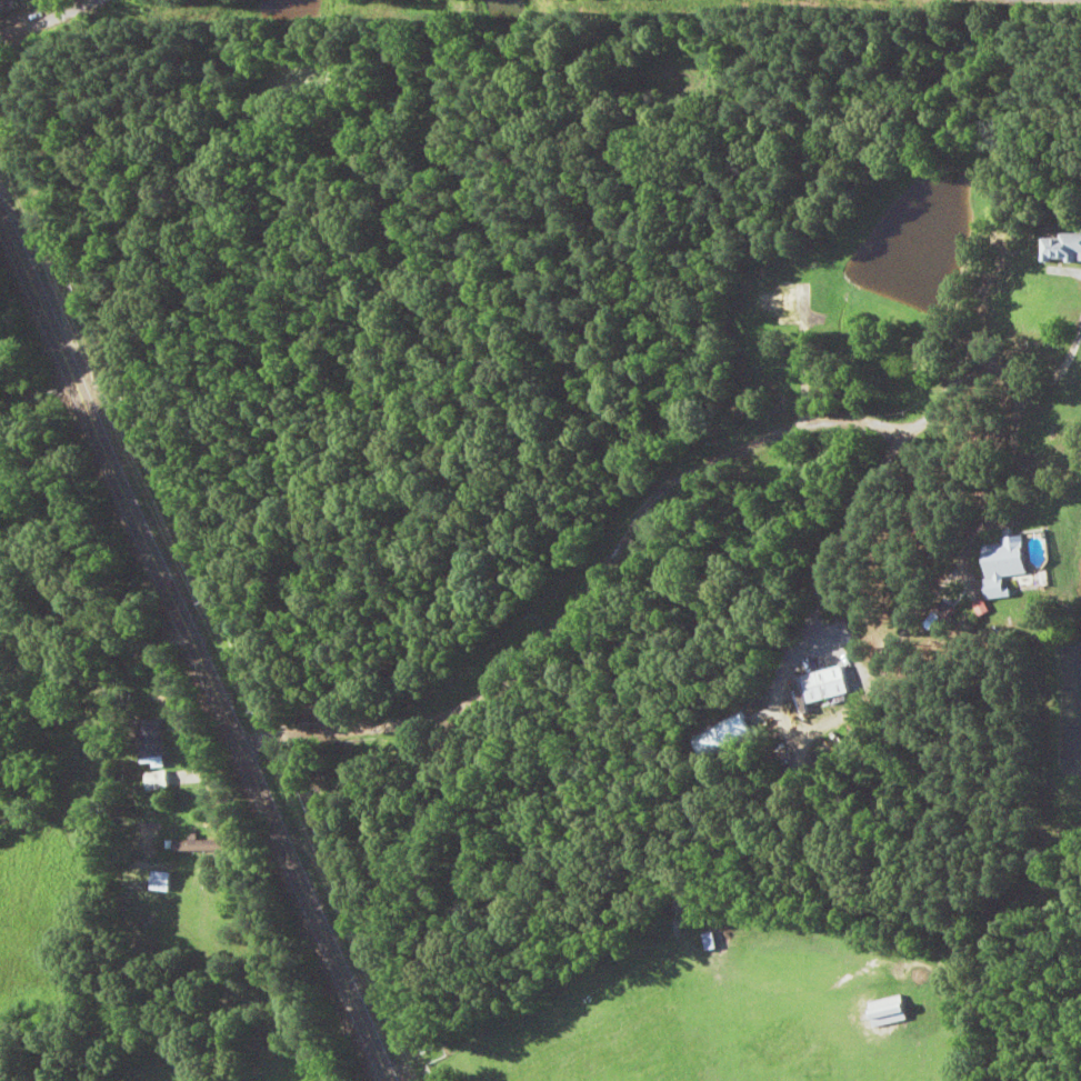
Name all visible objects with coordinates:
building: (30, 1)
building: (1059, 248)
building: (775, 302)
road: (1070, 343)
building: (1002, 565)
road: (343, 660)
road: (183, 682)
building: (823, 685)
building: (149, 739)
building: (159, 882)
building: (707, 942)
building: (884, 1012)

